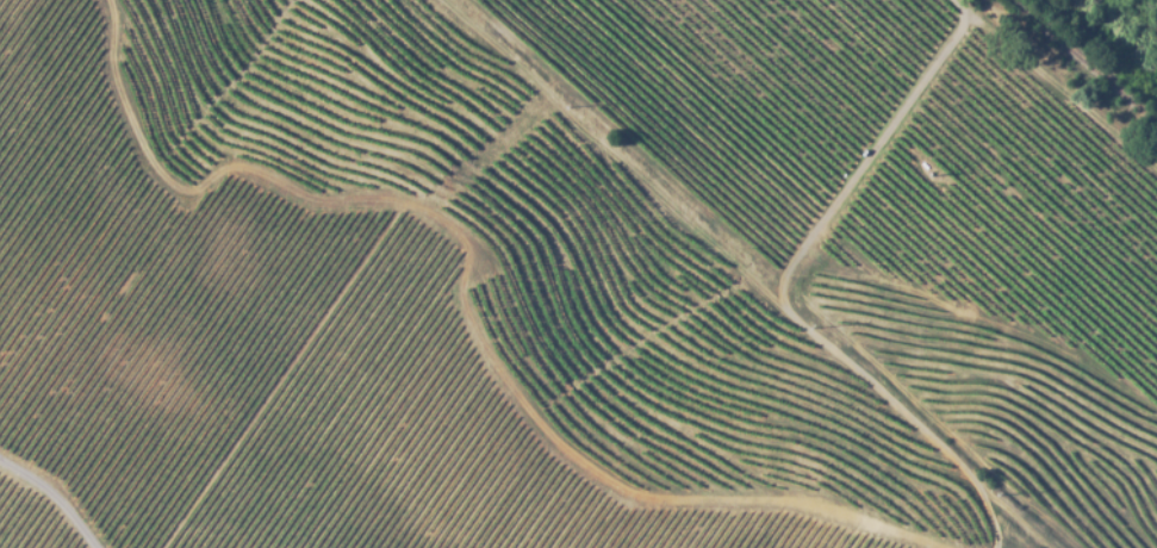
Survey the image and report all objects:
railway: (1089, 56)

